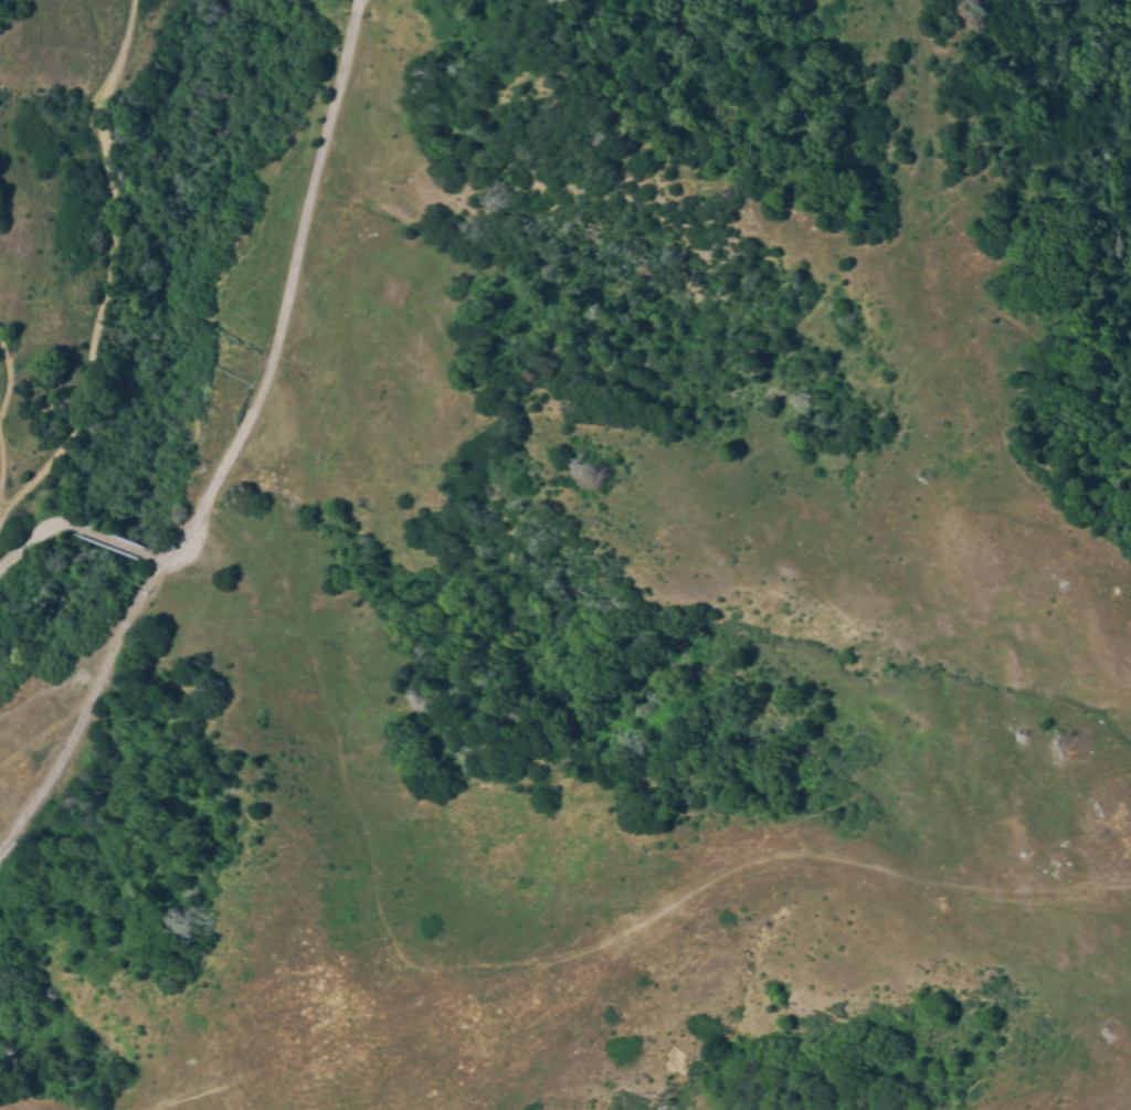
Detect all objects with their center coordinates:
road: (239, 456)
road: (78, 531)

